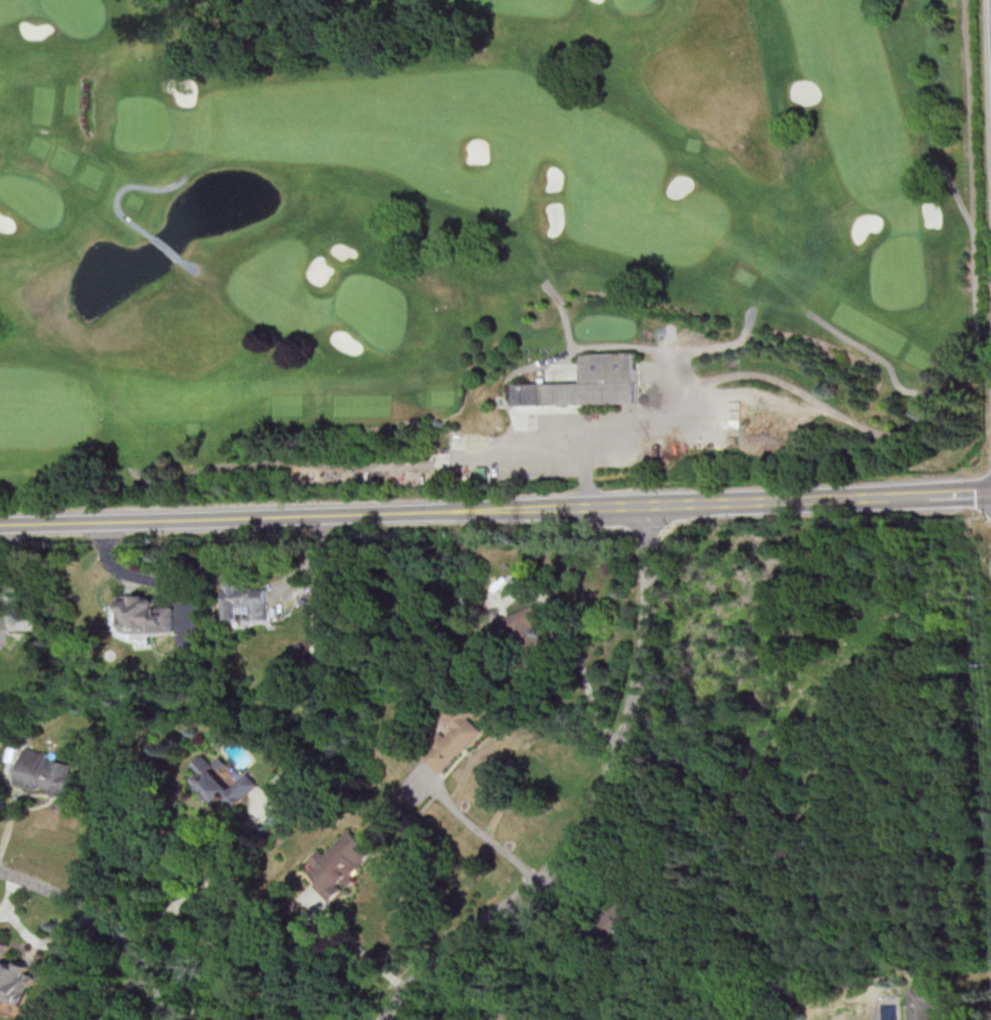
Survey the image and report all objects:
road: (122, 190)
road: (958, 204)
park: (487, 247)
road: (163, 249)
road: (186, 266)
road: (972, 289)
road: (561, 313)
road: (579, 347)
building: (587, 385)
road: (822, 409)
parking lot: (554, 447)
road: (565, 447)
road: (282, 463)
road: (818, 496)
road: (323, 515)
road: (140, 576)
building: (144, 614)
building: (518, 623)
road: (579, 662)
building: (451, 739)
building: (45, 773)
building: (219, 784)
road: (12, 801)
road: (595, 802)
road: (481, 834)
building: (338, 863)
road: (195, 890)
building: (621, 916)
road: (102, 922)
road: (159, 934)
road: (356, 949)
building: (14, 977)
road: (488, 979)
road: (118, 991)
building: (922, 1003)

